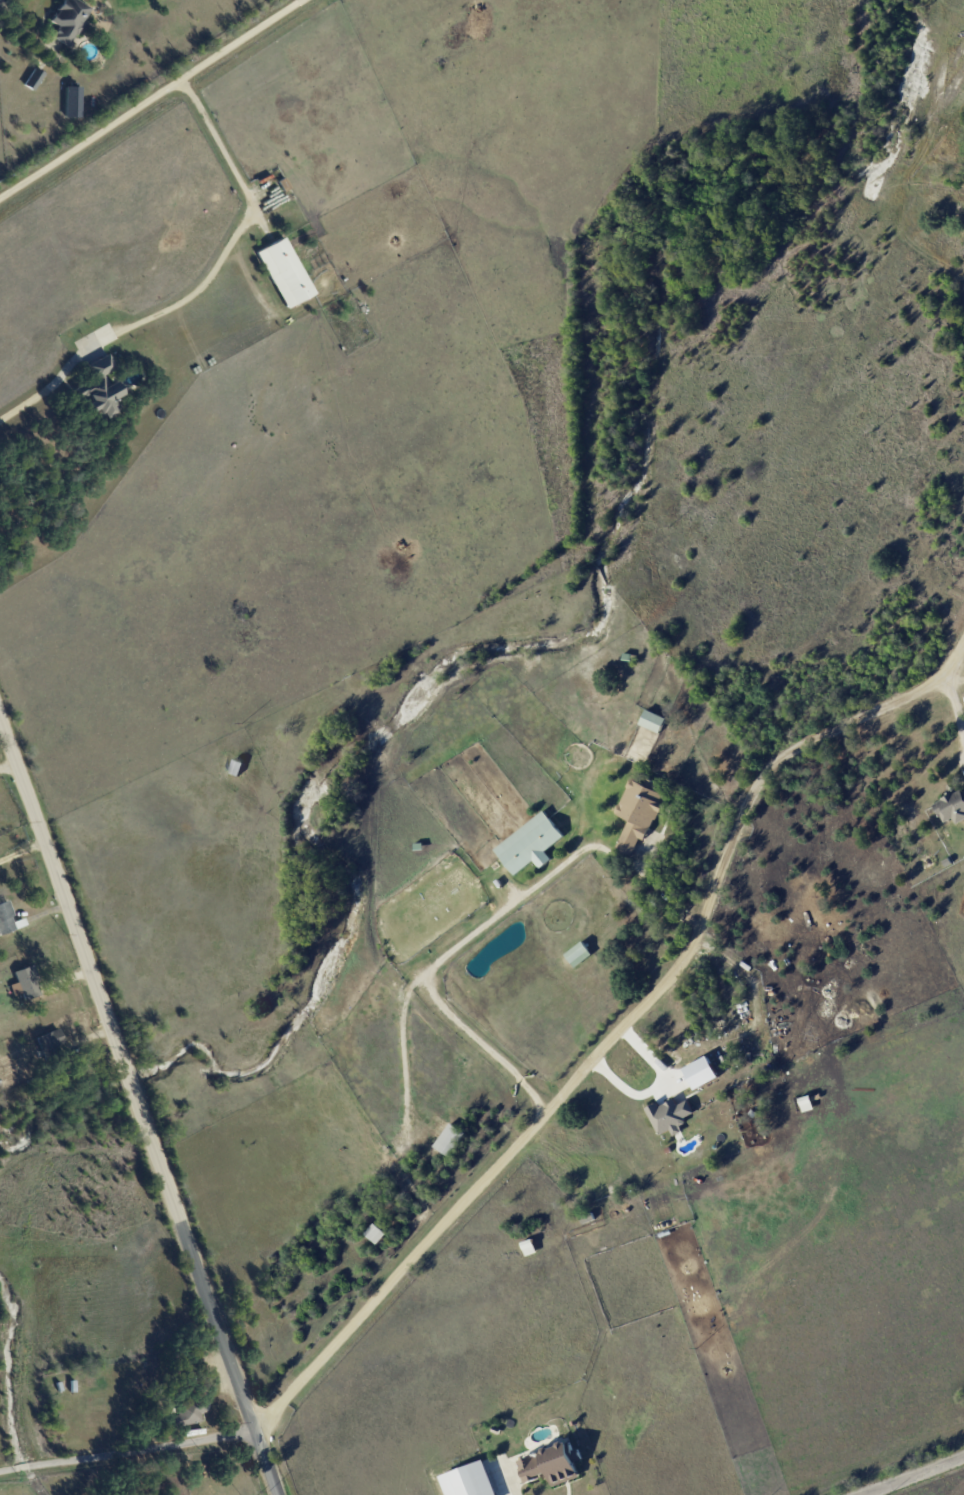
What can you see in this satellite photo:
building: (68, 20)
building: (33, 78)
road: (151, 97)
building: (285, 273)
road: (201, 288)
building: (101, 389)
road: (955, 706)
building: (653, 720)
road: (7, 766)
building: (951, 805)
building: (638, 814)
building: (530, 843)
road: (20, 849)
road: (661, 892)
building: (578, 953)
road: (440, 959)
building: (25, 982)
road: (624, 1029)
building: (50, 1043)
building: (702, 1072)
road: (654, 1086)
road: (138, 1109)
building: (670, 1115)
building: (449, 1139)
building: (375, 1233)
building: (191, 1414)
road: (128, 1453)
building: (552, 1464)
road: (917, 1477)
building: (470, 1481)
road: (516, 1493)

